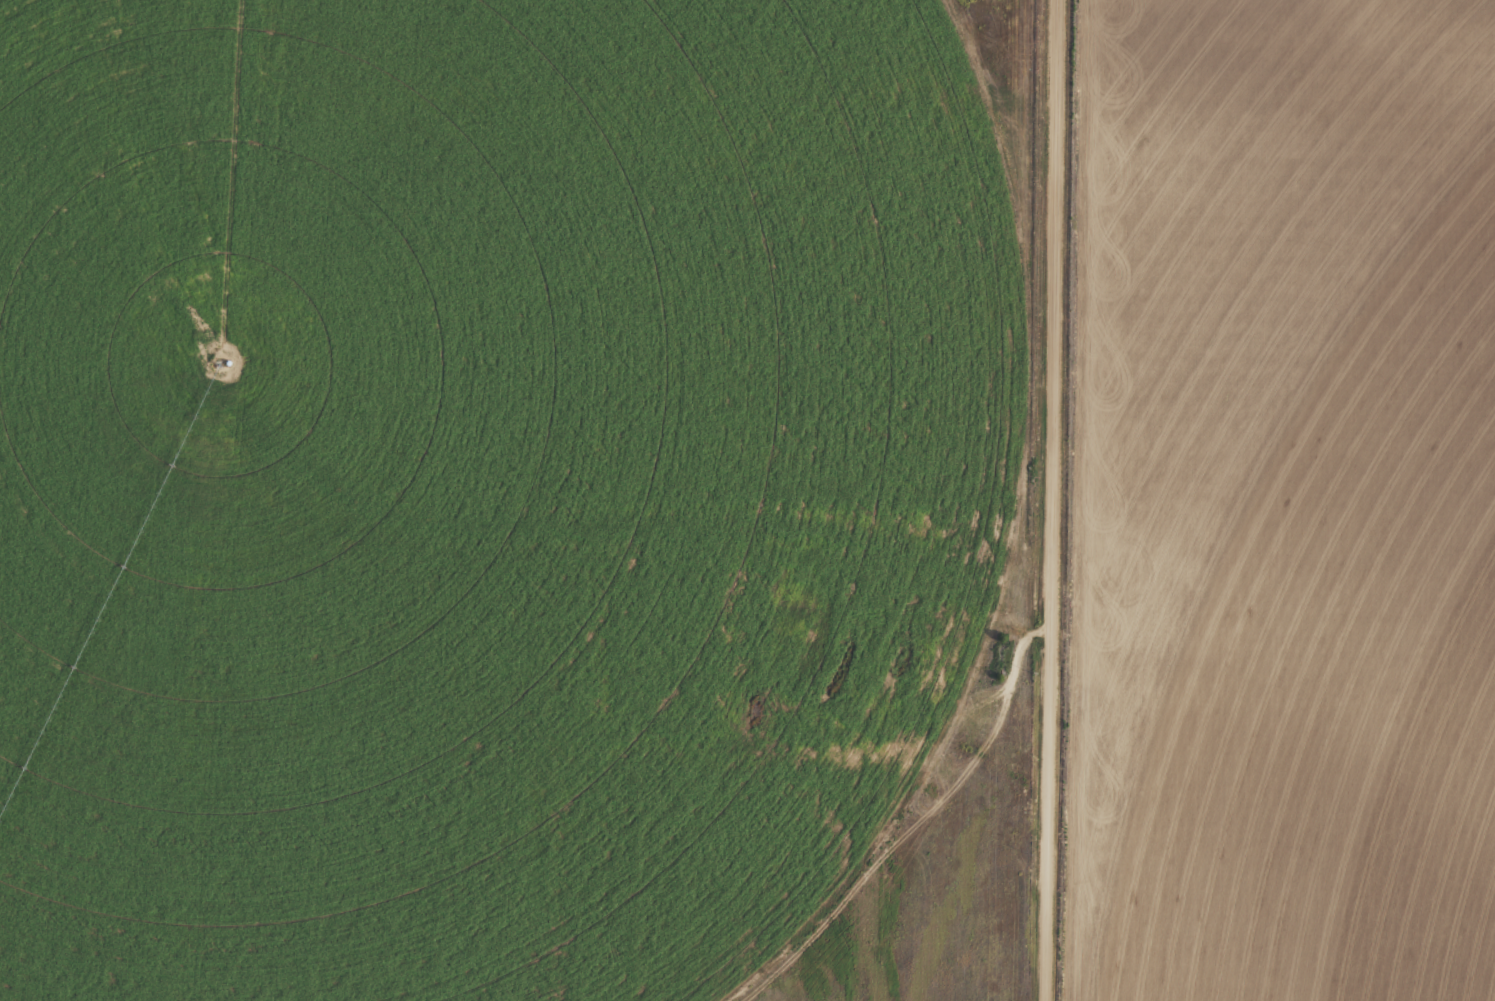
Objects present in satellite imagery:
road: (1049, 500)

